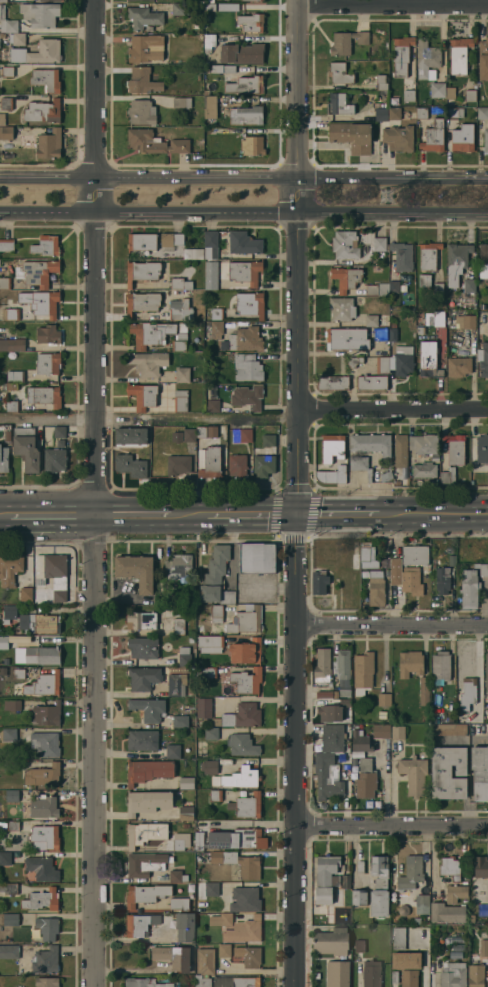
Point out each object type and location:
building: (24, 0)
building: (50, 0)
building: (140, 0)
building: (251, 0)
building: (3, 1)
building: (211, 1)
road: (393, 5)
building: (209, 6)
building: (228, 7)
building: (180, 8)
building: (40, 14)
building: (144, 18)
building: (206, 18)
building: (6, 22)
building: (250, 23)
building: (2, 35)
building: (17, 38)
building: (209, 42)
building: (346, 42)
building: (145, 48)
building: (38, 53)
building: (242, 53)
building: (401, 55)
building: (459, 55)
building: (426, 58)
building: (483, 59)
building: (222, 69)
building: (7, 71)
building: (339, 73)
building: (46, 79)
building: (142, 81)
building: (381, 82)
building: (245, 85)
building: (437, 90)
building: (450, 93)
building: (408, 95)
building: (470, 96)
building: (6, 103)
building: (182, 103)
building: (451, 103)
building: (340, 104)
building: (209, 108)
building: (43, 111)
building: (141, 112)
building: (421, 113)
building: (454, 113)
building: (482, 113)
building: (381, 114)
building: (394, 114)
building: (245, 115)
building: (2, 119)
building: (6, 132)
building: (351, 136)
building: (433, 137)
building: (398, 138)
building: (463, 138)
building: (485, 140)
building: (155, 142)
building: (200, 142)
building: (49, 144)
building: (252, 146)
road: (244, 173)
power tower: (386, 196)
road: (243, 214)
building: (172, 238)
building: (375, 241)
building: (142, 242)
building: (243, 243)
building: (211, 244)
building: (6, 245)
building: (345, 245)
building: (47, 246)
building: (195, 253)
building: (402, 256)
building: (428, 256)
road: (298, 258)
building: (456, 261)
building: (483, 261)
building: (142, 271)
building: (37, 272)
building: (245, 272)
building: (211, 275)
building: (346, 278)
building: (424, 280)
building: (5, 283)
building: (180, 284)
building: (394, 286)
building: (469, 286)
building: (438, 288)
building: (378, 289)
building: (41, 302)
building: (142, 302)
building: (249, 303)
building: (341, 309)
building: (179, 310)
building: (10, 313)
building: (217, 314)
building: (435, 318)
building: (371, 319)
building: (465, 322)
building: (420, 330)
building: (150, 333)
building: (380, 334)
building: (48, 335)
building: (393, 335)
building: (236, 337)
building: (180, 338)
building: (346, 339)
building: (12, 344)
building: (429, 360)
building: (354, 361)
building: (402, 361)
building: (484, 361)
building: (48, 363)
building: (148, 363)
building: (382, 365)
building: (458, 366)
building: (247, 368)
building: (182, 374)
building: (15, 376)
building: (332, 383)
building: (372, 383)
building: (9, 386)
building: (143, 395)
building: (44, 396)
building: (247, 397)
building: (180, 401)
building: (12, 406)
building: (213, 406)
road: (393, 410)
road: (150, 418)
building: (212, 431)
building: (59, 432)
building: (7, 435)
building: (189, 435)
building: (200, 435)
building: (242, 435)
building: (130, 437)
building: (268, 440)
building: (60, 443)
building: (370, 444)
building: (424, 444)
building: (26, 448)
building: (455, 449)
building: (482, 449)
building: (401, 451)
building: (435, 457)
building: (3, 459)
building: (55, 460)
building: (332, 460)
building: (209, 462)
building: (131, 465)
building: (177, 465)
building: (237, 465)
building: (264, 465)
building: (361, 465)
building: (424, 470)
building: (386, 475)
building: (448, 476)
building: (487, 477)
building: (397, 483)
road: (97, 493)
road: (53, 514)
road: (134, 514)
road: (432, 514)
road: (4, 515)
road: (188, 515)
road: (252, 515)
road: (337, 515)
traffic signals: (298, 516)
building: (415, 555)
building: (256, 558)
building: (367, 559)
building: (355, 561)
building: (385, 563)
building: (217, 565)
building: (178, 567)
building: (10, 568)
building: (482, 569)
building: (136, 571)
building: (395, 571)
building: (340, 572)
building: (376, 573)
building: (52, 574)
building: (442, 580)
building: (411, 581)
building: (319, 582)
building: (469, 589)
building: (376, 591)
building: (25, 594)
building: (215, 594)
building: (8, 613)
building: (216, 614)
building: (246, 619)
building: (141, 620)
building: (39, 623)
road: (392, 625)
building: (178, 626)
building: (210, 644)
building: (142, 648)
building: (246, 651)
building: (43, 655)
building: (184, 656)
building: (6, 661)
building: (487, 662)
building: (410, 663)
building: (322, 665)
building: (440, 665)
building: (206, 672)
building: (342, 672)
building: (363, 673)
building: (19, 674)
building: (156, 680)
building: (247, 680)
building: (44, 684)
building: (424, 691)
building: (468, 696)
building: (384, 699)
building: (333, 701)
building: (12, 705)
building: (203, 707)
building: (147, 708)
building: (333, 711)
building: (487, 713)
building: (46, 714)
building: (242, 716)
building: (180, 721)
building: (448, 729)
building: (381, 731)
building: (397, 732)
building: (211, 733)
building: (9, 734)
building: (327, 738)
building: (142, 740)
building: (360, 741)
building: (45, 744)
building: (242, 745)
building: (173, 751)
road: (297, 751)
building: (12, 765)
building: (209, 767)
building: (148, 770)
building: (479, 772)
building: (448, 773)
building: (43, 775)
building: (413, 775)
building: (327, 776)
building: (237, 778)
building: (365, 779)
building: (186, 783)
building: (215, 795)
building: (12, 796)
building: (147, 802)
building: (246, 806)
building: (44, 807)
building: (186, 813)
road: (250, 823)
road: (393, 823)
building: (13, 826)
building: (145, 833)
building: (46, 836)
building: (231, 839)
building: (179, 844)
building: (216, 857)
building: (5, 858)
building: (144, 864)
building: (249, 867)
building: (480, 867)
building: (41, 868)
building: (450, 868)
building: (379, 873)
building: (174, 876)
building: (326, 878)
building: (410, 885)
building: (8, 888)
building: (207, 889)
building: (487, 893)
building: (145, 894)
building: (456, 894)
building: (359, 897)
building: (42, 900)
building: (244, 900)
building: (179, 903)
building: (378, 903)
building: (446, 913)
building: (10, 919)
building: (220, 920)
building: (139, 924)
building: (184, 926)
building: (47, 928)
building: (244, 931)
building: (399, 937)
building: (331, 941)
building: (483, 948)
building: (9, 951)
building: (224, 951)
building: (249, 956)
building: (173, 957)
building: (46, 961)
building: (205, 961)
building: (406, 961)
building: (337, 974)
building: (371, 974)
building: (453, 975)
building: (476, 976)
building: (409, 978)
building: (223, 981)
building: (47, 982)
building: (202, 982)
building: (246, 982)
building: (143, 983)

